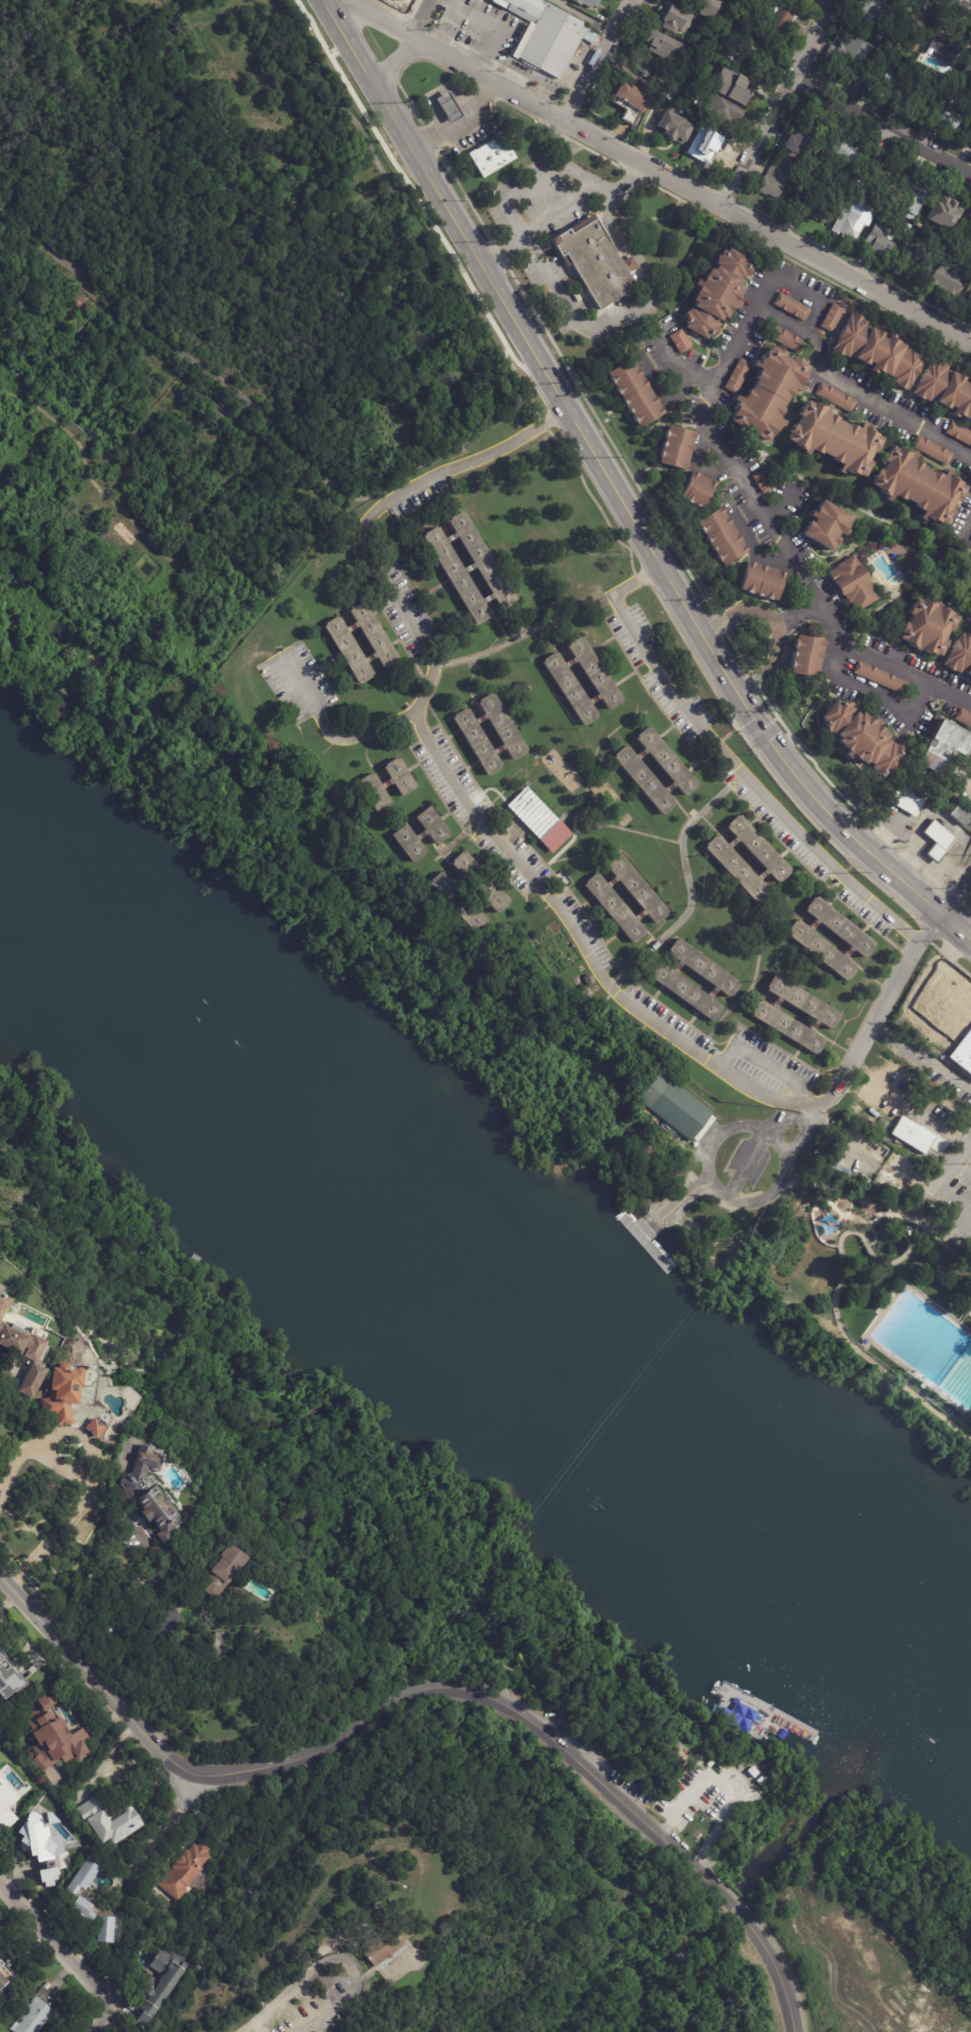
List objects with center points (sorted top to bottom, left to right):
building: (799, 0)
building: (803, 0)
building: (685, 2)
building: (587, 3)
road: (961, 5)
building: (873, 12)
building: (666, 15)
road: (584, 16)
building: (708, 16)
building: (779, 19)
road: (498, 26)
building: (911, 30)
building: (877, 34)
building: (548, 36)
building: (651, 42)
road: (410, 45)
building: (699, 45)
building: (943, 47)
building: (849, 57)
building: (930, 58)
road: (598, 60)
building: (757, 60)
building: (677, 67)
building: (653, 70)
building: (967, 70)
building: (884, 82)
building: (734, 87)
building: (663, 90)
building: (918, 100)
building: (628, 102)
road: (779, 102)
building: (450, 107)
gas station: (450, 107)
building: (714, 111)
building: (947, 111)
road: (460, 120)
road: (882, 126)
building: (672, 128)
building: (798, 138)
building: (706, 144)
building: (843, 154)
building: (492, 156)
building: (877, 171)
building: (773, 178)
road: (530, 185)
road: (692, 188)
building: (913, 188)
road: (561, 206)
building: (812, 210)
building: (869, 214)
building: (940, 216)
building: (968, 220)
building: (846, 225)
building: (2, 226)
building: (913, 232)
building: (876, 243)
building: (918, 261)
building: (593, 262)
building: (629, 263)
road: (636, 271)
building: (946, 276)
road: (555, 280)
building: (717, 293)
building: (969, 302)
building: (790, 304)
building: (82, 305)
road: (749, 310)
building: (831, 315)
building: (786, 337)
building: (680, 338)
building: (878, 350)
road: (678, 366)
building: (451, 385)
building: (945, 387)
building: (764, 389)
building: (634, 390)
building: (835, 395)
building: (959, 430)
building: (833, 436)
building: (675, 445)
building: (931, 447)
road: (518, 448)
road: (610, 479)
building: (761, 479)
building: (915, 483)
building: (696, 488)
road: (375, 512)
building: (825, 522)
road: (969, 529)
building: (718, 534)
building: (484, 561)
building: (458, 576)
building: (761, 579)
building: (852, 581)
road: (442, 583)
road: (380, 610)
road: (739, 612)
road: (461, 614)
road: (786, 616)
building: (925, 625)
road: (440, 631)
road: (524, 635)
building: (377, 637)
building: (350, 652)
building: (960, 652)
building: (806, 654)
road: (769, 660)
building: (597, 675)
building: (879, 675)
road: (579, 680)
road: (300, 685)
building: (571, 691)
road: (948, 694)
road: (894, 705)
road: (410, 715)
building: (963, 715)
road: (489, 721)
building: (505, 724)
road: (467, 725)
road: (762, 730)
road: (362, 731)
building: (863, 738)
building: (478, 741)
building: (945, 745)
road: (713, 750)
building: (671, 760)
road: (733, 763)
road: (420, 765)
road: (654, 769)
road: (686, 772)
road: (768, 773)
building: (403, 776)
building: (646, 779)
building: (378, 789)
building: (911, 796)
road: (508, 809)
building: (960, 812)
building: (533, 816)
building: (968, 824)
road: (612, 826)
building: (434, 827)
road: (460, 838)
building: (939, 839)
building: (408, 844)
road: (728, 844)
road: (539, 845)
building: (760, 850)
road: (471, 866)
road: (452, 872)
building: (737, 872)
road: (758, 876)
road: (837, 880)
road: (534, 881)
building: (481, 884)
road: (691, 886)
building: (640, 890)
road: (553, 892)
road: (623, 897)
road: (959, 898)
building: (460, 903)
building: (617, 909)
building: (840, 928)
road: (959, 928)
road: (621, 930)
road: (857, 939)
road: (832, 944)
building: (822, 951)
building: (705, 968)
road: (666, 983)
road: (697, 983)
road: (881, 987)
building: (688, 992)
building: (955, 997)
building: (805, 1004)
road: (885, 1009)
road: (795, 1018)
building: (789, 1028)
building: (933, 1031)
road: (803, 1043)
building: (964, 1054)
road: (923, 1056)
road: (762, 1061)
road: (744, 1086)
building: (870, 1093)
building: (675, 1106)
building: (857, 1109)
road: (791, 1119)
building: (850, 1125)
road: (940, 1126)
building: (653, 1128)
building: (912, 1135)
road: (712, 1139)
road: (752, 1161)
road: (964, 1164)
road: (952, 1165)
road: (785, 1171)
parking lot: (957, 1178)
road: (685, 1193)
road: (955, 1197)
park: (879, 1249)
building: (969, 1262)
building: (0, 1285)
road: (839, 1286)
building: (6, 1304)
river: (492, 1304)
building: (21, 1340)
building: (36, 1379)
building: (919, 1381)
building: (65, 1394)
building: (97, 1428)
road: (97, 1469)
building: (151, 1494)
building: (229, 1571)
road: (127, 1598)
building: (256, 1633)
building: (11, 1679)
park: (474, 1721)
building: (689, 1721)
road: (353, 1733)
building: (55, 1736)
road: (723, 1739)
road: (105, 1762)
building: (751, 1773)
road: (732, 1794)
building: (52, 1800)
building: (6, 1809)
building: (113, 1822)
road: (666, 1830)
building: (46, 1847)
building: (188, 1873)
building: (47, 1877)
building: (82, 1891)
road: (728, 1901)
building: (104, 1929)
building: (388, 1938)
road: (61, 1939)
road: (330, 1959)
road: (775, 1968)
building: (6, 1979)
road: (132, 1986)
building: (162, 1987)
building: (38, 2012)

